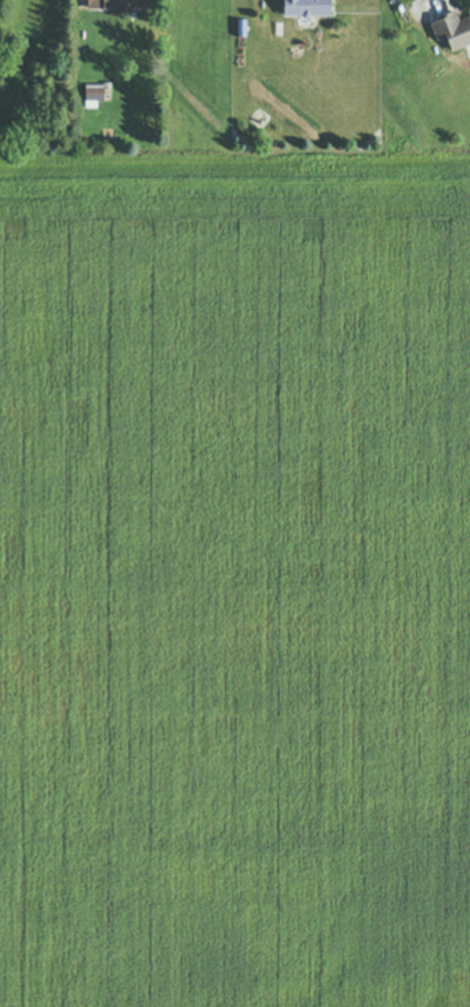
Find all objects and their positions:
building: (115, 4)
building: (304, 5)
building: (401, 18)
building: (451, 28)
building: (94, 93)
building: (5, 112)

